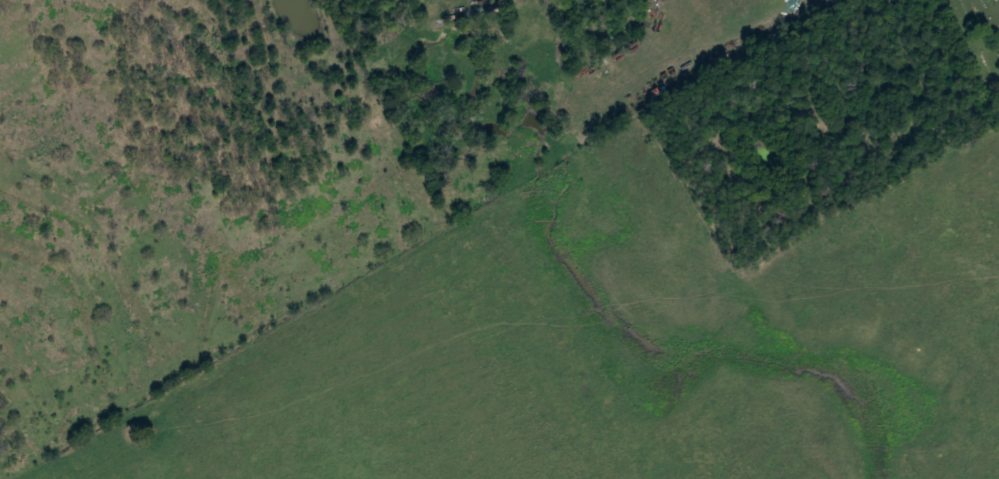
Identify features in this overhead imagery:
park: (979, 37)

